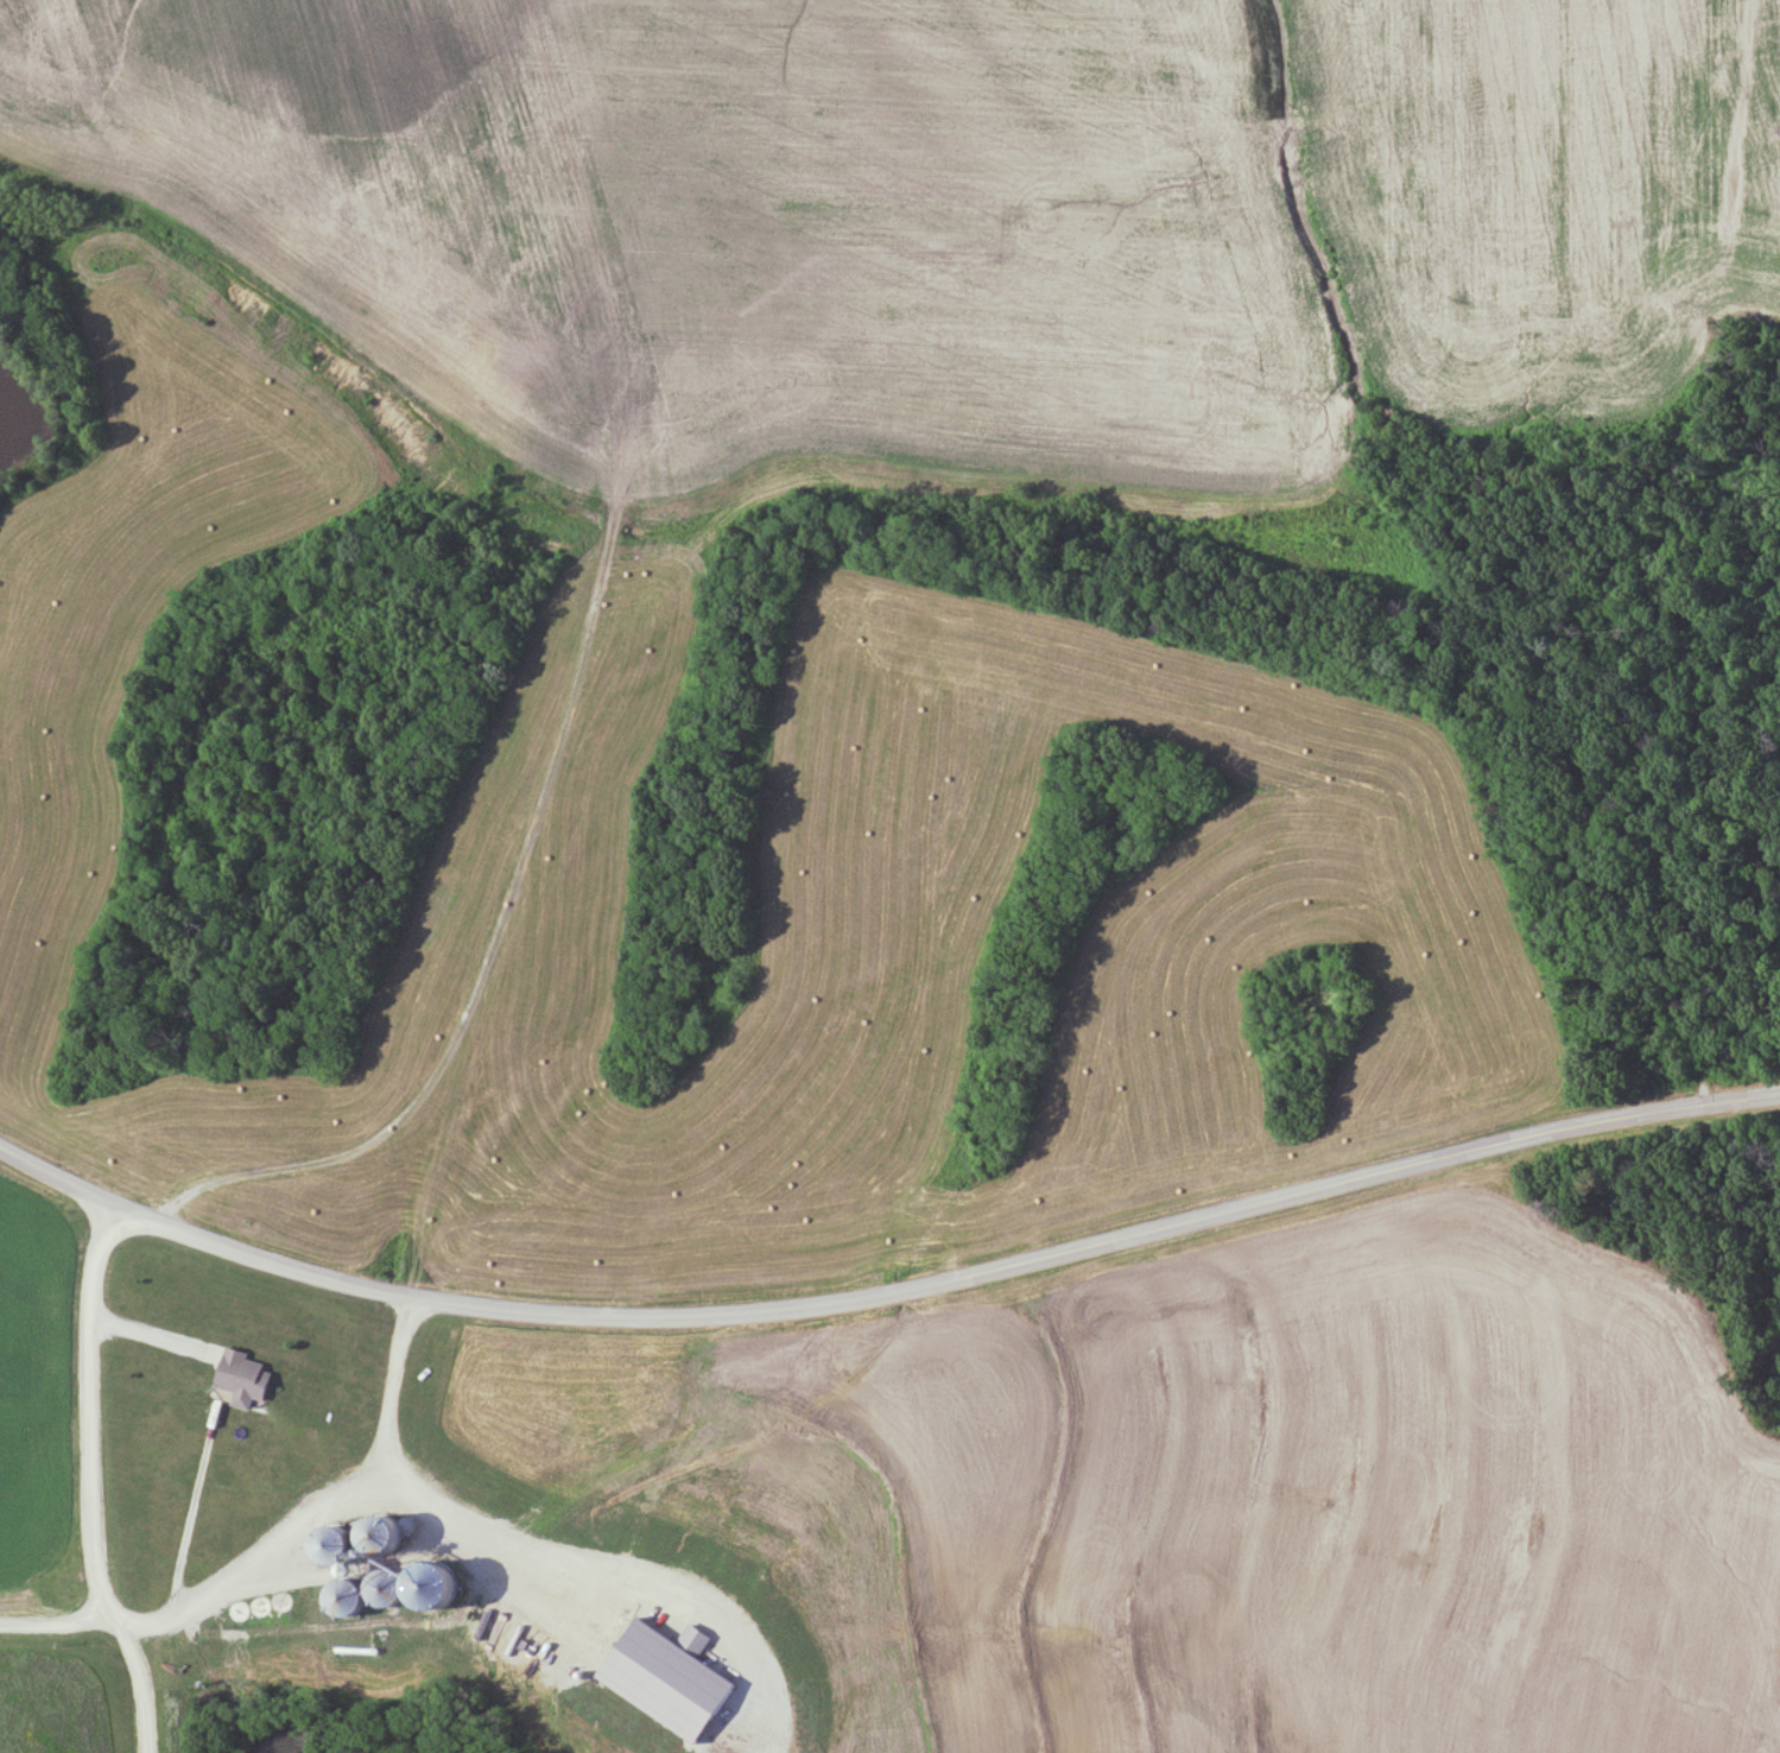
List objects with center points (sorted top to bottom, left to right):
road: (885, 1298)
building: (236, 1374)
road: (94, 1486)
road: (56, 1622)

